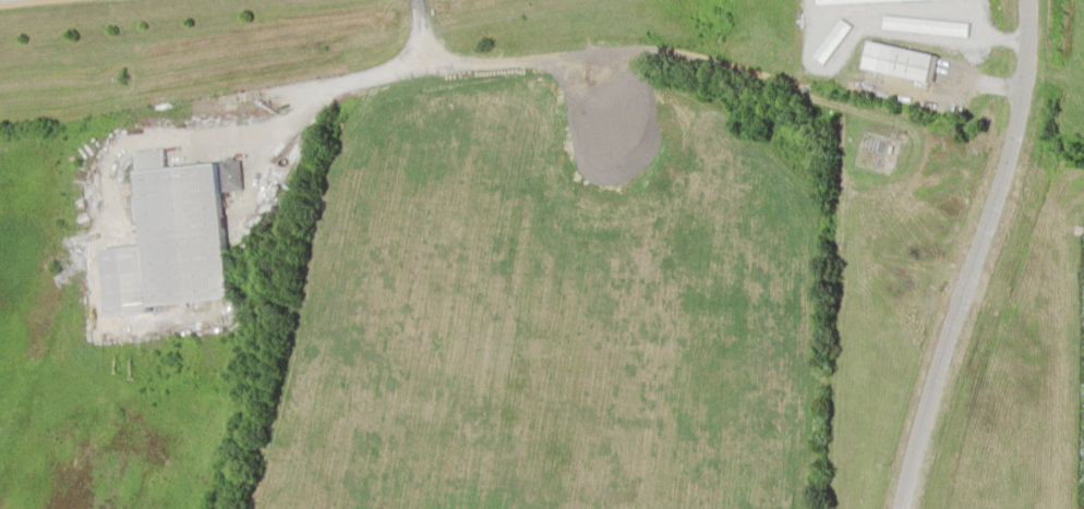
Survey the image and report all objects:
building: (896, 60)
building: (176, 229)
road: (975, 256)

